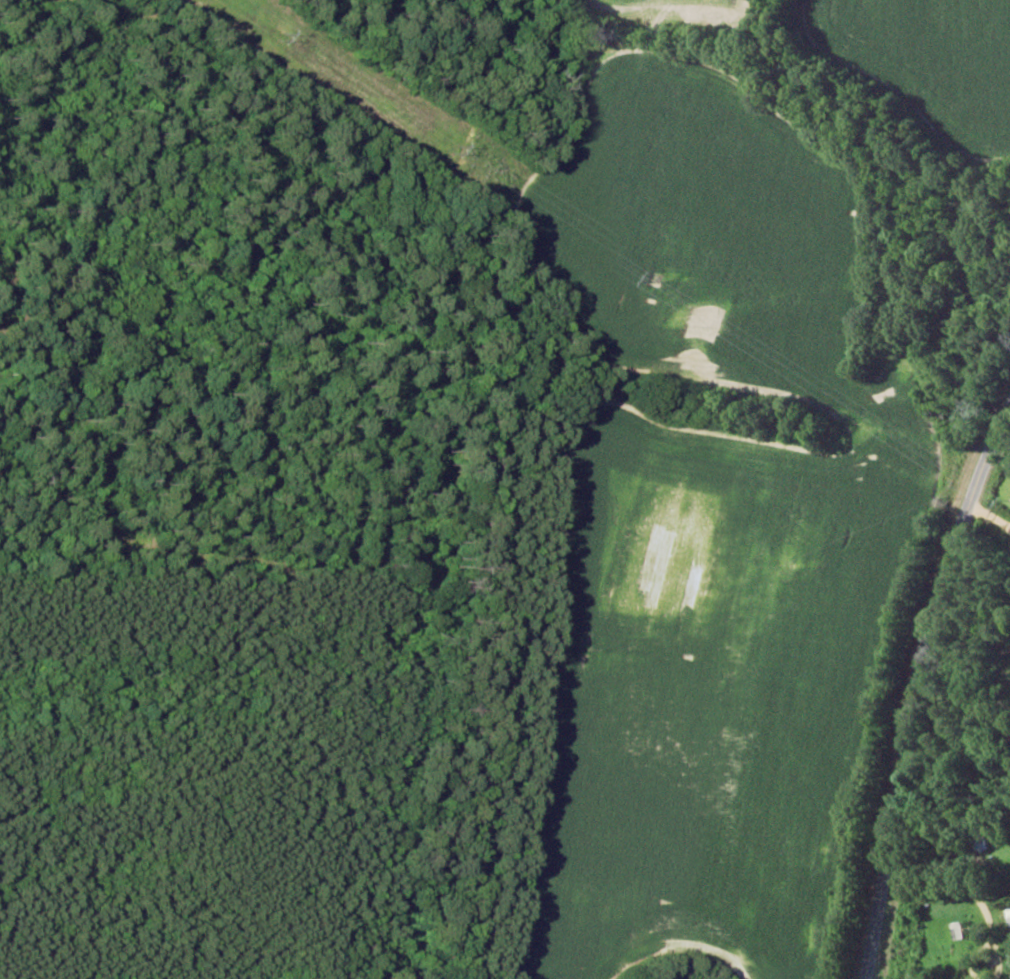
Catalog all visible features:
road: (941, 756)

